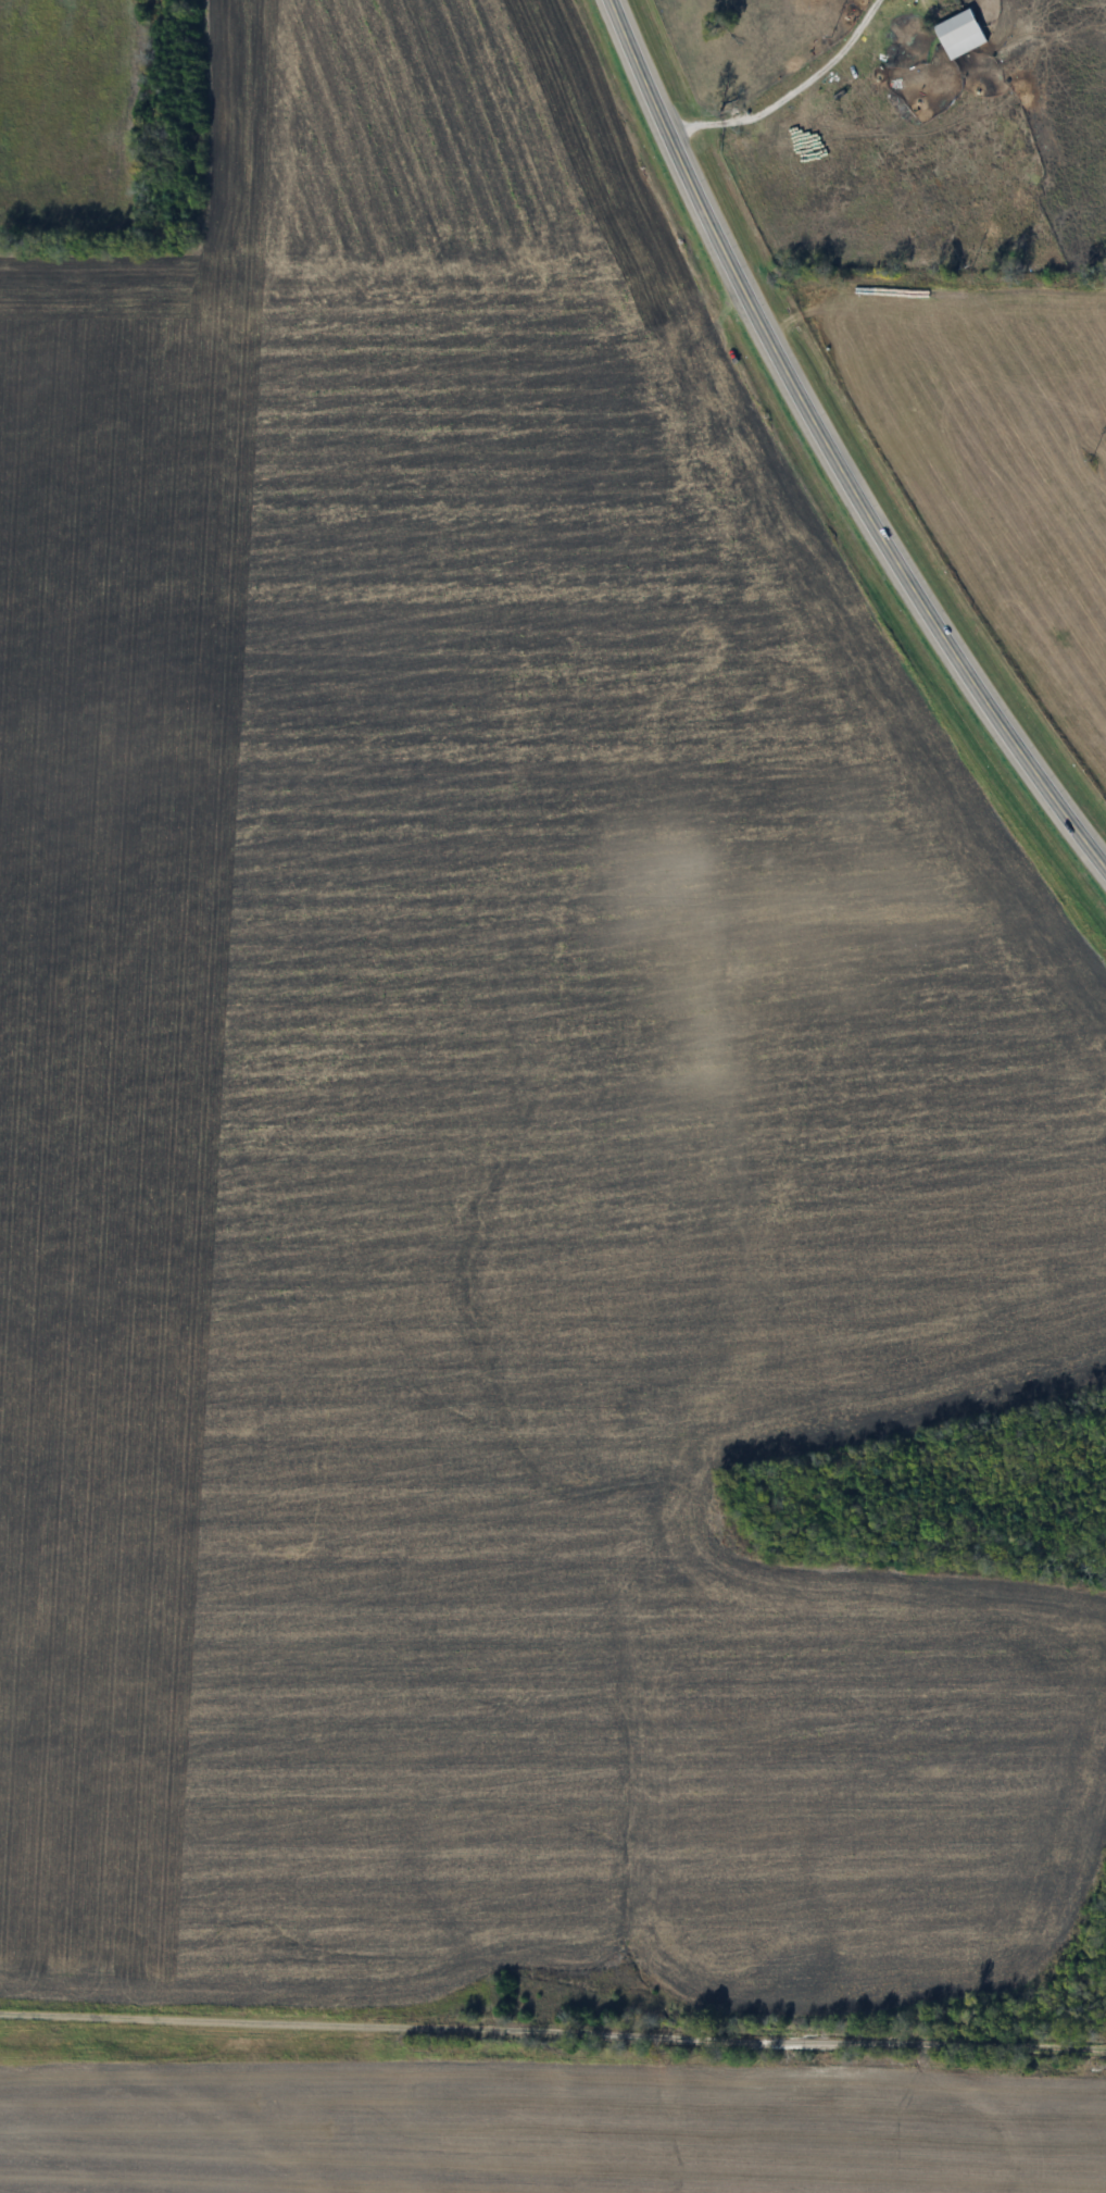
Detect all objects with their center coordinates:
building: (957, 35)
road: (791, 94)
road: (835, 440)
road: (552, 2044)

